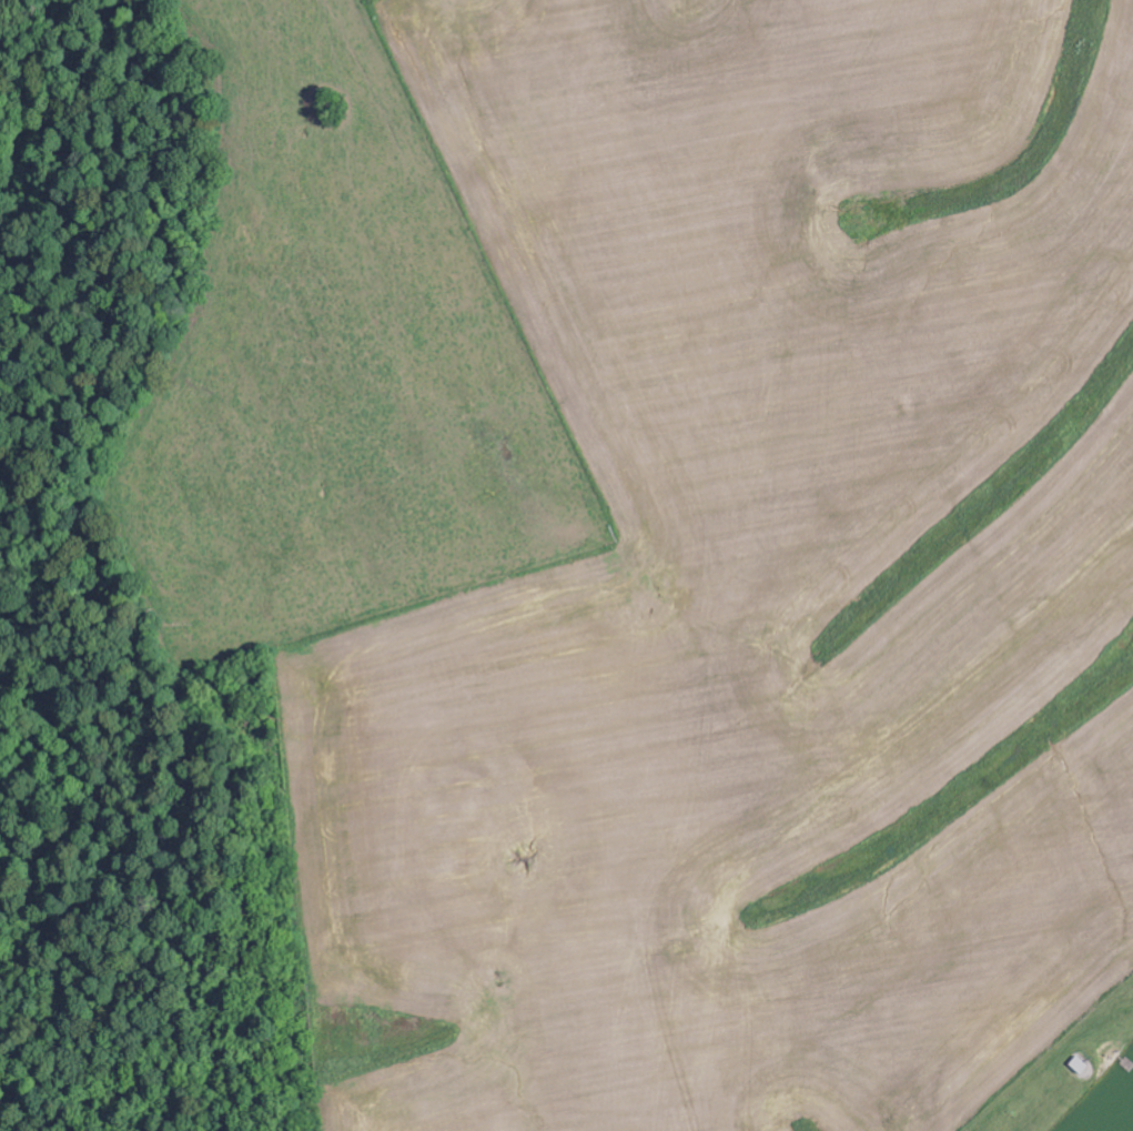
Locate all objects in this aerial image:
building: (1078, 1066)

